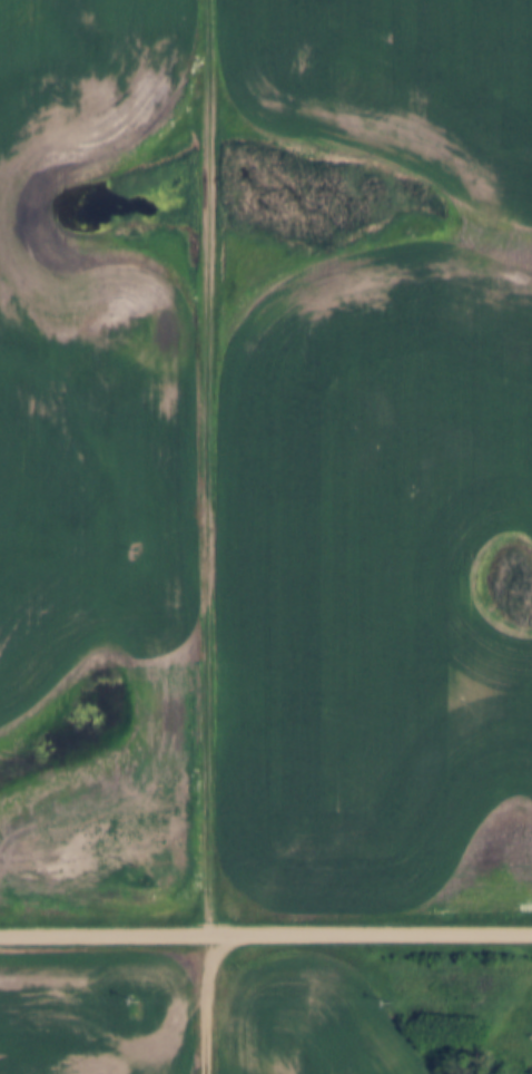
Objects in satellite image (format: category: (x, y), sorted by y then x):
road: (209, 536)
road: (266, 935)

